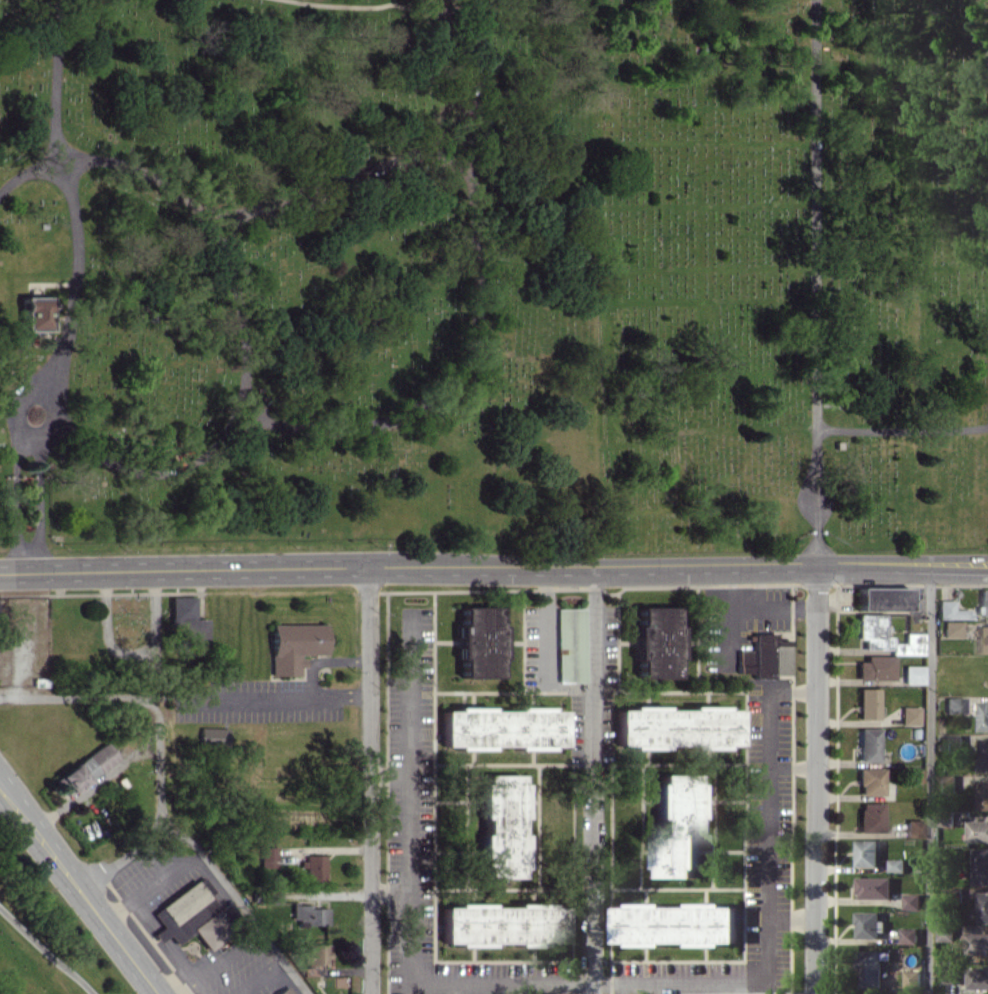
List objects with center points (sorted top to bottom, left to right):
road: (409, 3)
road: (384, 4)
road: (56, 77)
road: (54, 173)
road: (236, 212)
road: (816, 214)
road: (224, 229)
park: (294, 269)
park: (789, 274)
road: (75, 277)
building: (34, 313)
road: (480, 316)
road: (240, 407)
road: (17, 412)
building: (33, 414)
road: (831, 428)
road: (15, 500)
road: (40, 504)
road: (493, 568)
building: (882, 598)
building: (983, 601)
building: (951, 610)
building: (185, 620)
building: (951, 628)
road: (546, 630)
building: (885, 636)
building: (982, 639)
building: (479, 641)
building: (656, 642)
building: (570, 644)
building: (293, 646)
building: (764, 657)
road: (323, 661)
building: (875, 668)
building: (912, 674)
road: (257, 695)
building: (867, 703)
building: (953, 704)
building: (909, 715)
building: (983, 715)
building: (676, 727)
building: (501, 728)
building: (212, 736)
building: (954, 741)
building: (868, 744)
building: (983, 755)
road: (793, 767)
building: (83, 769)
road: (389, 775)
road: (370, 779)
road: (817, 781)
building: (870, 781)
road: (929, 781)
road: (594, 783)
building: (982, 794)
road: (159, 800)
building: (869, 817)
building: (677, 825)
building: (500, 826)
building: (912, 828)
building: (977, 830)
building: (867, 852)
building: (268, 856)
road: (122, 857)
building: (897, 865)
building: (980, 866)
building: (313, 867)
road: (152, 885)
building: (874, 887)
road: (80, 888)
building: (912, 901)
building: (983, 907)
building: (310, 914)
road: (793, 918)
building: (501, 924)
building: (676, 924)
building: (869, 924)
building: (946, 933)
building: (909, 935)
building: (976, 943)
road: (45, 952)
building: (314, 954)
road: (219, 962)
building: (952, 974)
road: (257, 975)
building: (978, 977)
building: (912, 978)
road: (569, 987)
building: (283, 991)

